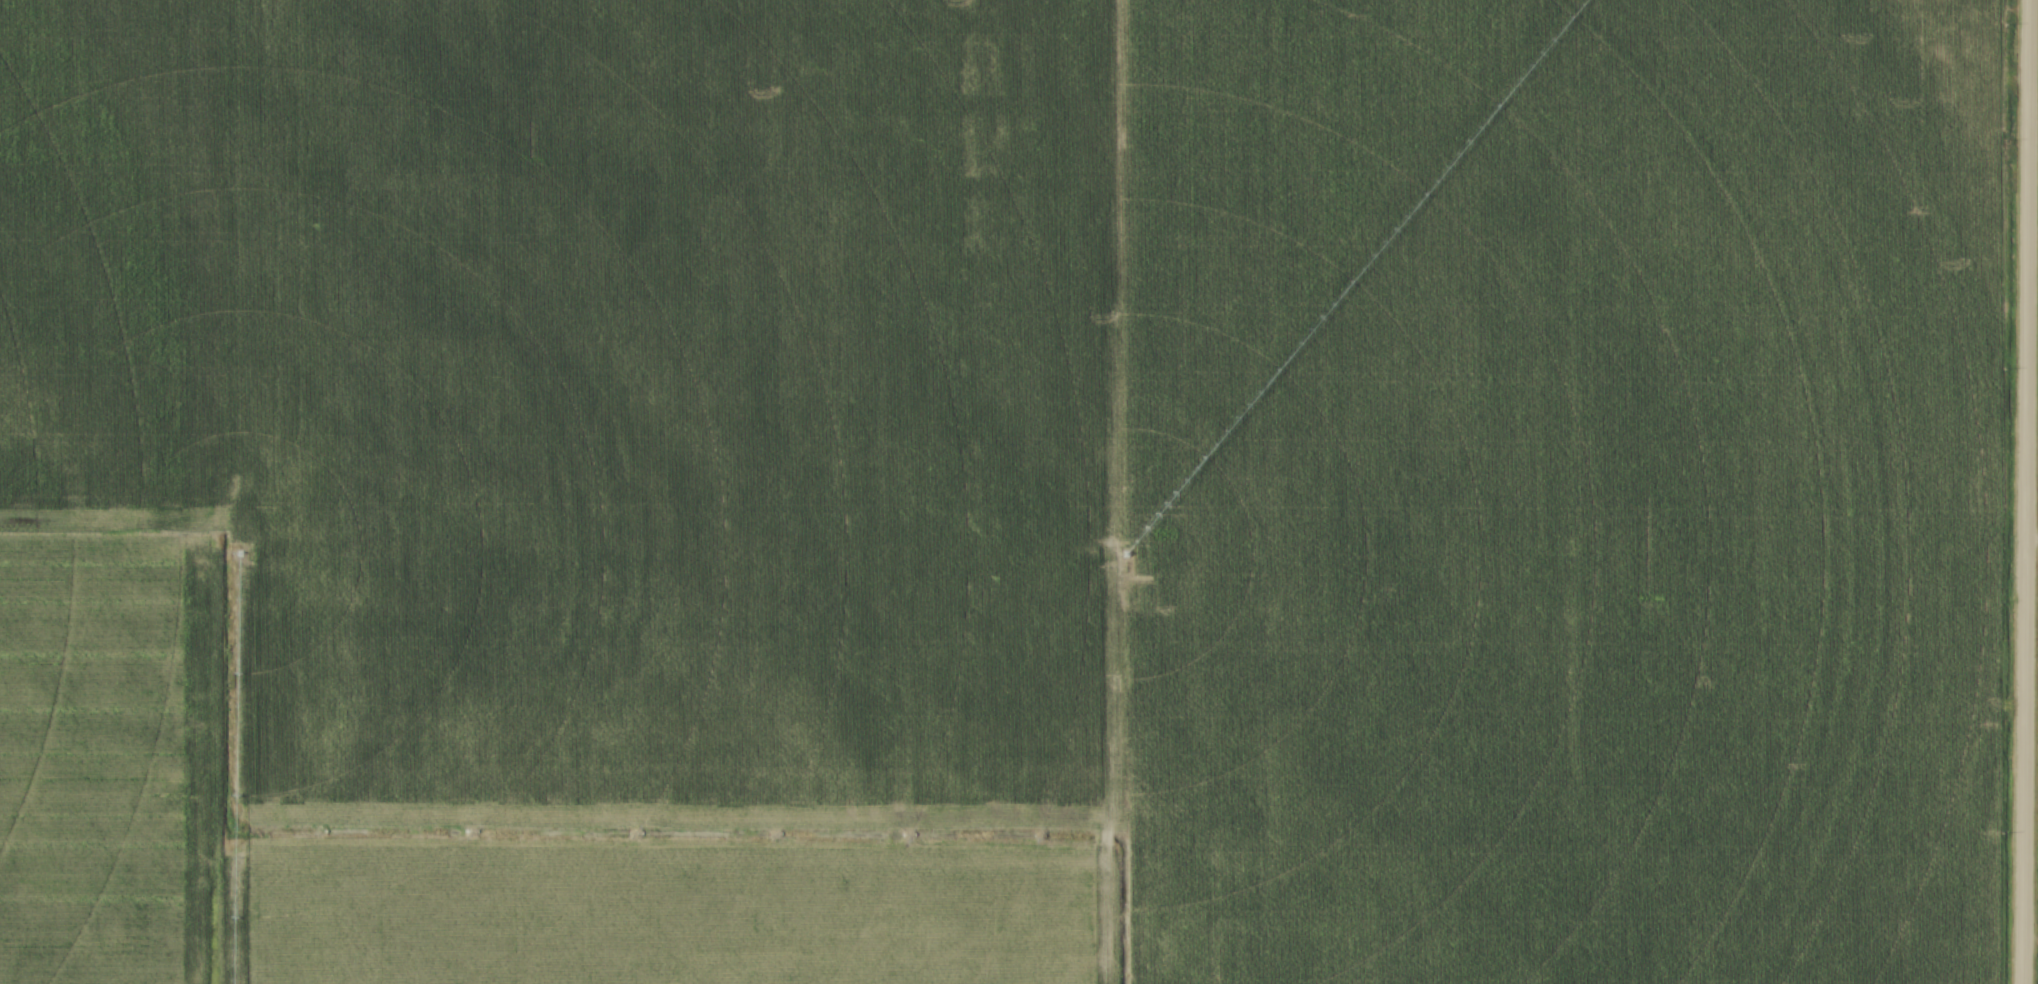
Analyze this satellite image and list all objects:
crop: (1000, 491)
road: (2022, 491)
road: (2030, 540)

